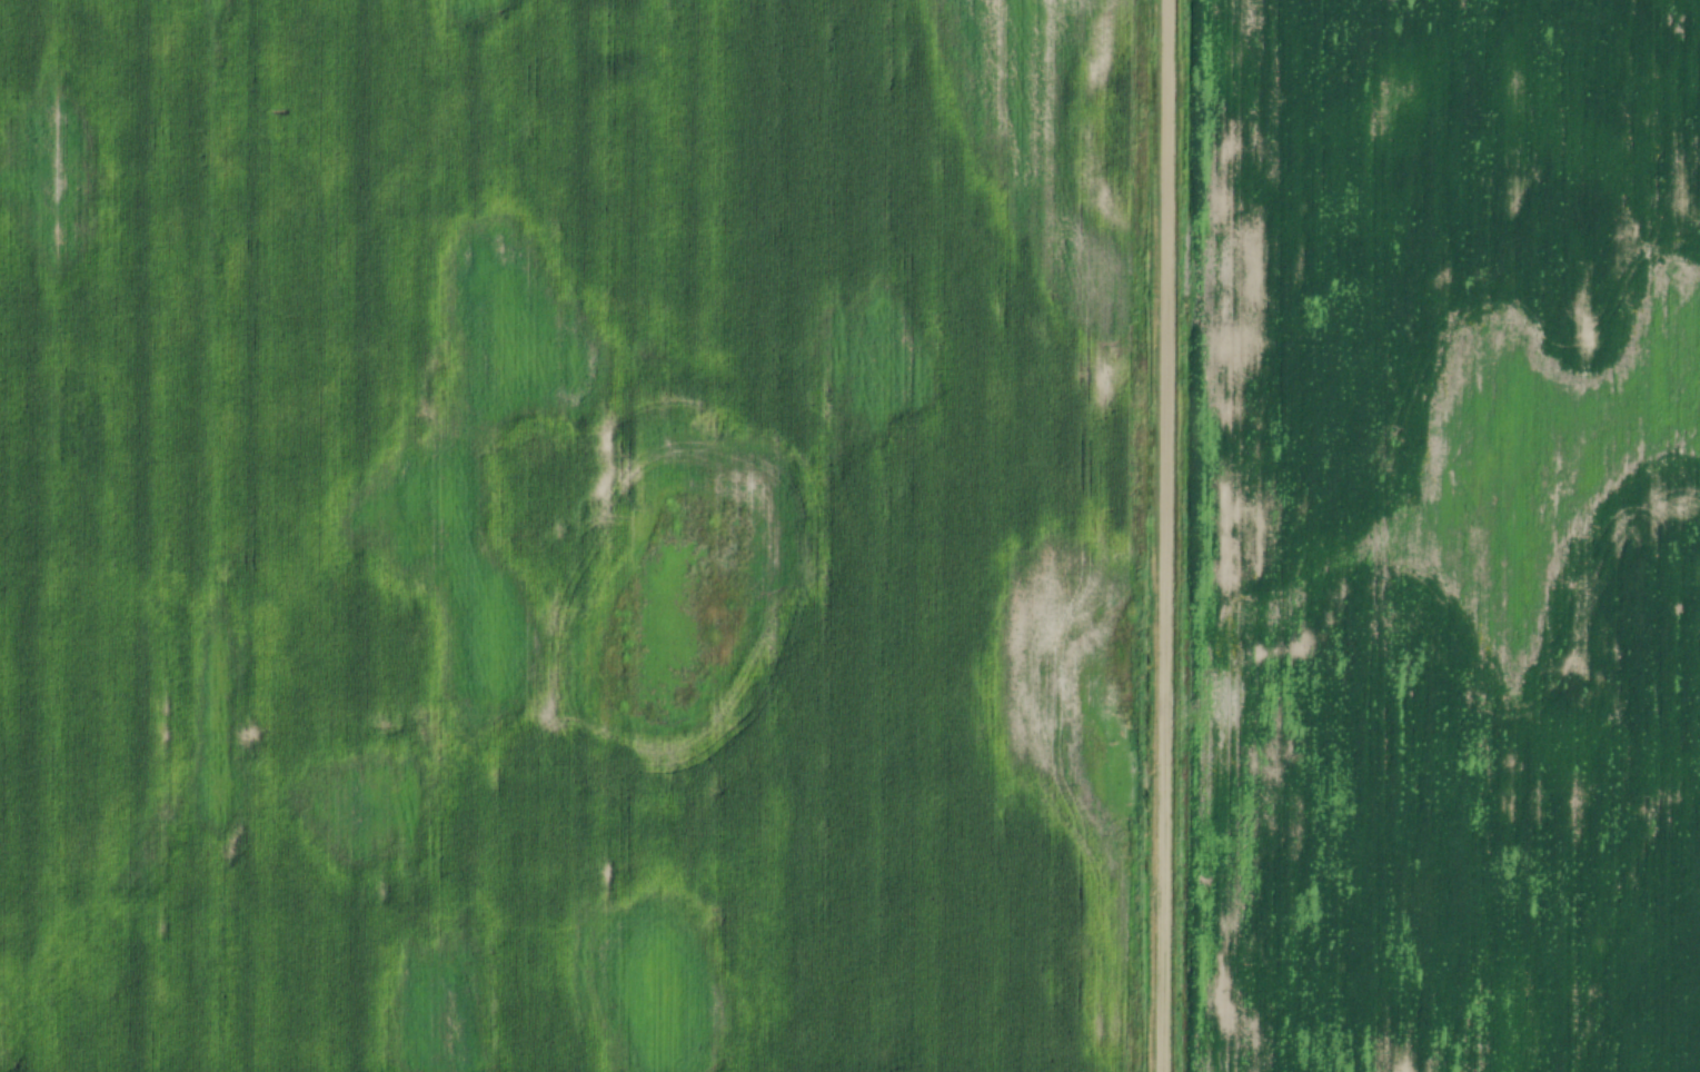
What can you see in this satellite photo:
road: (1166, 536)

